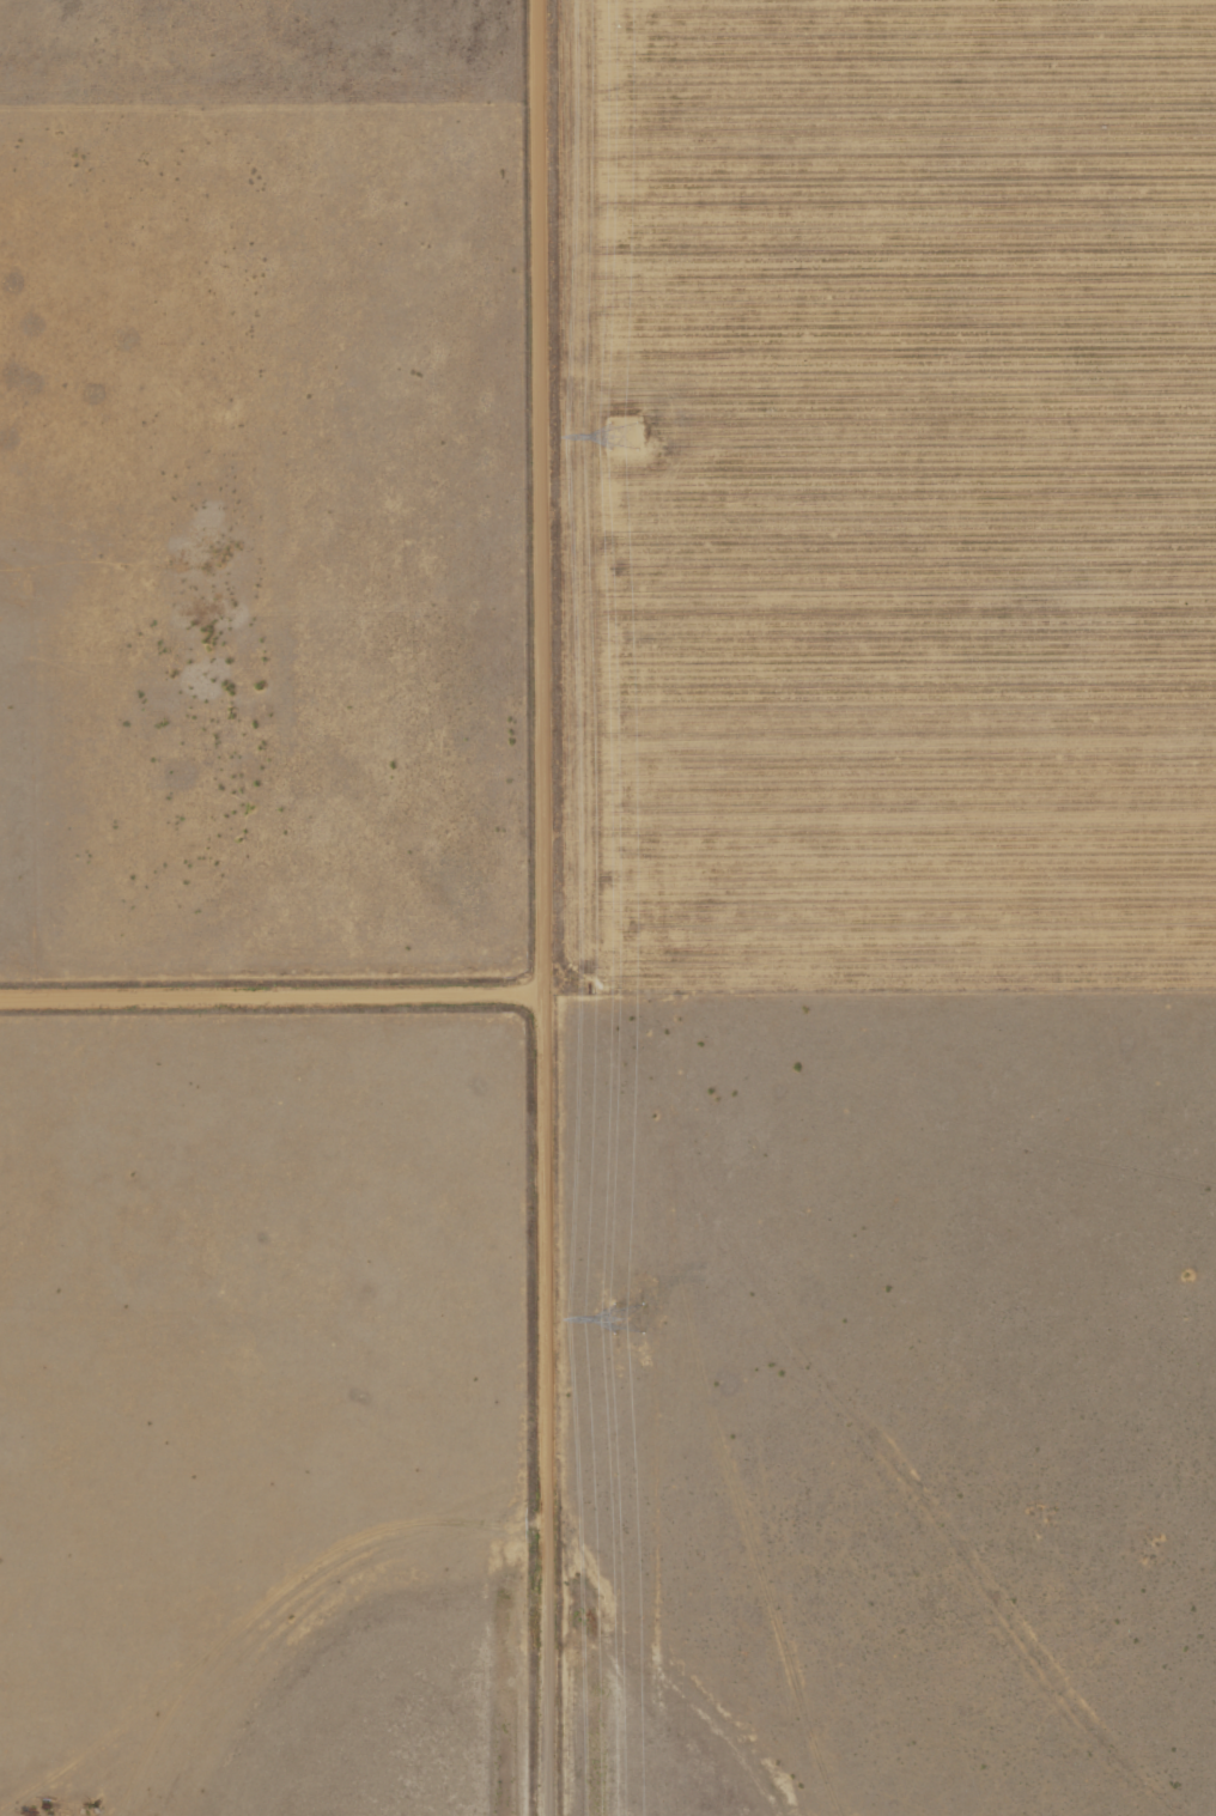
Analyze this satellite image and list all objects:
power tower: (619, 435)
road: (543, 907)
road: (880, 988)
road: (272, 992)
power tower: (625, 1318)

